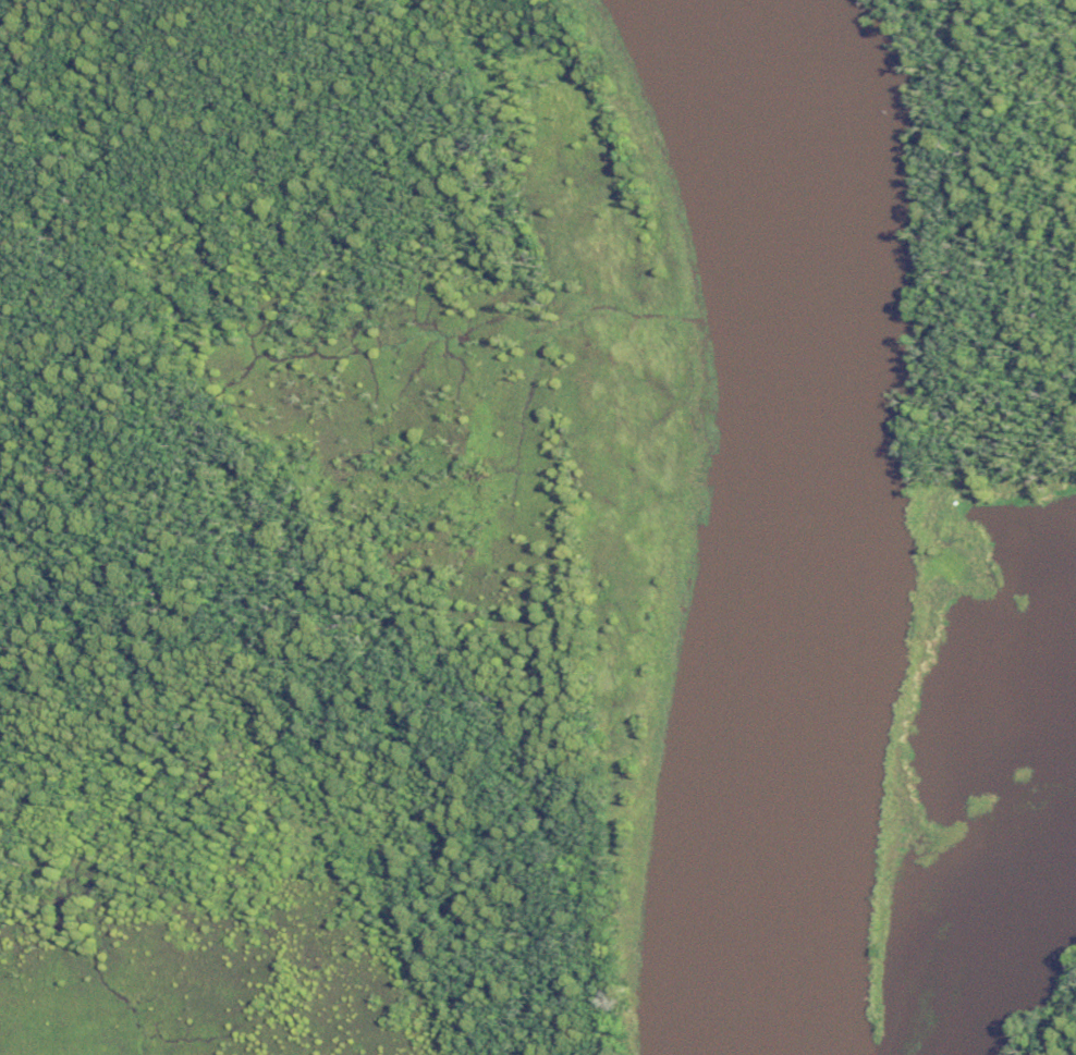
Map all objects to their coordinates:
river: (780, 524)

